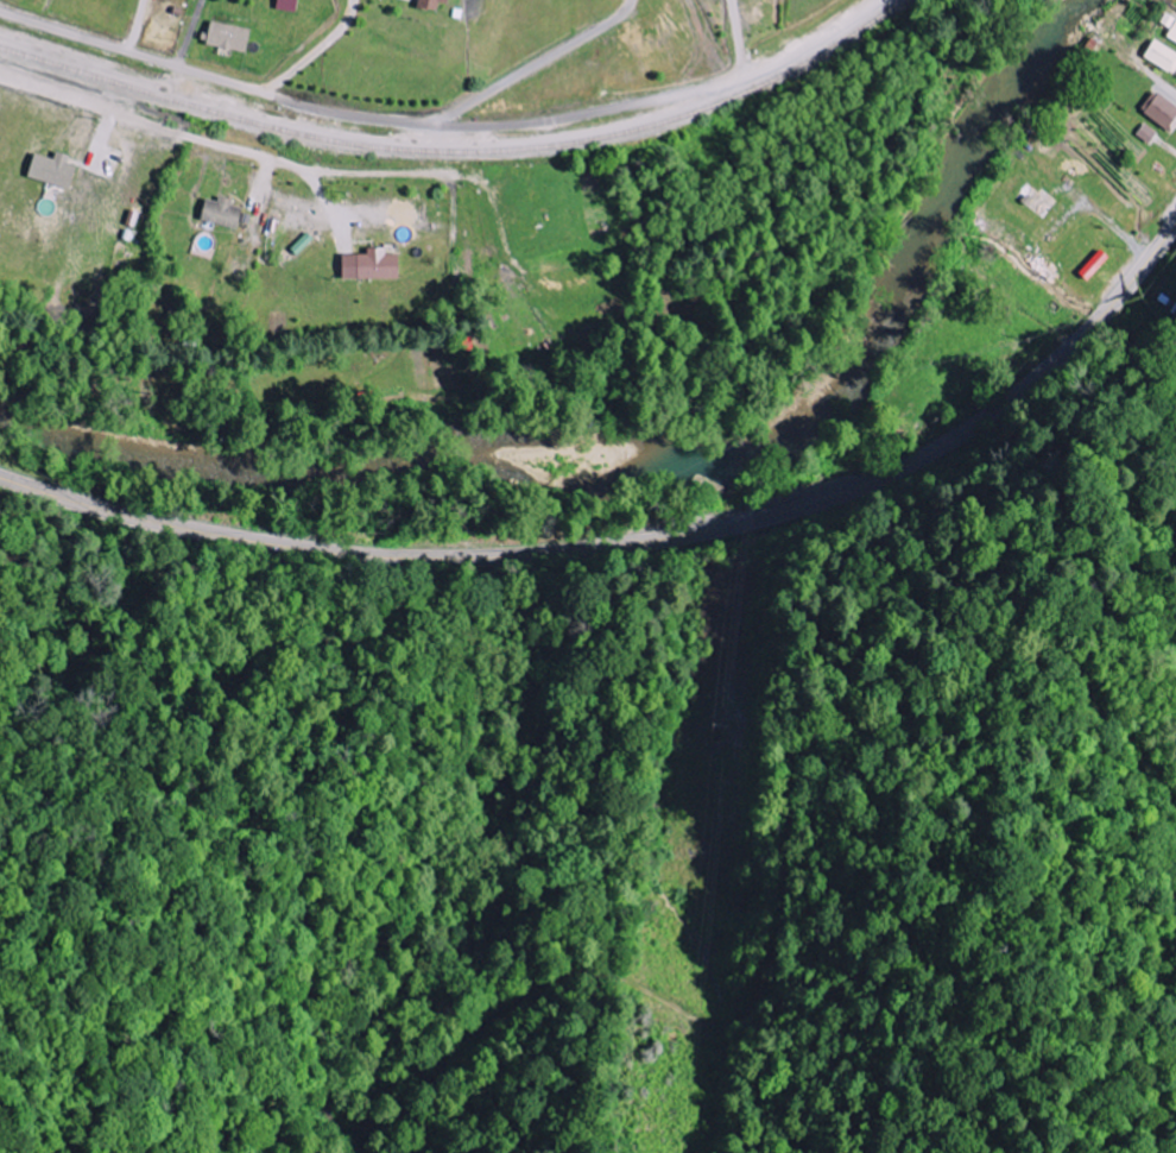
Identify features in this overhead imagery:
building: (434, 4)
building: (287, 5)
building: (1171, 25)
building: (229, 37)
building: (1163, 56)
road: (303, 99)
building: (1162, 111)
railway: (457, 151)
building: (56, 171)
building: (225, 214)
building: (1099, 265)
building: (374, 266)
river: (658, 449)
road: (636, 542)

